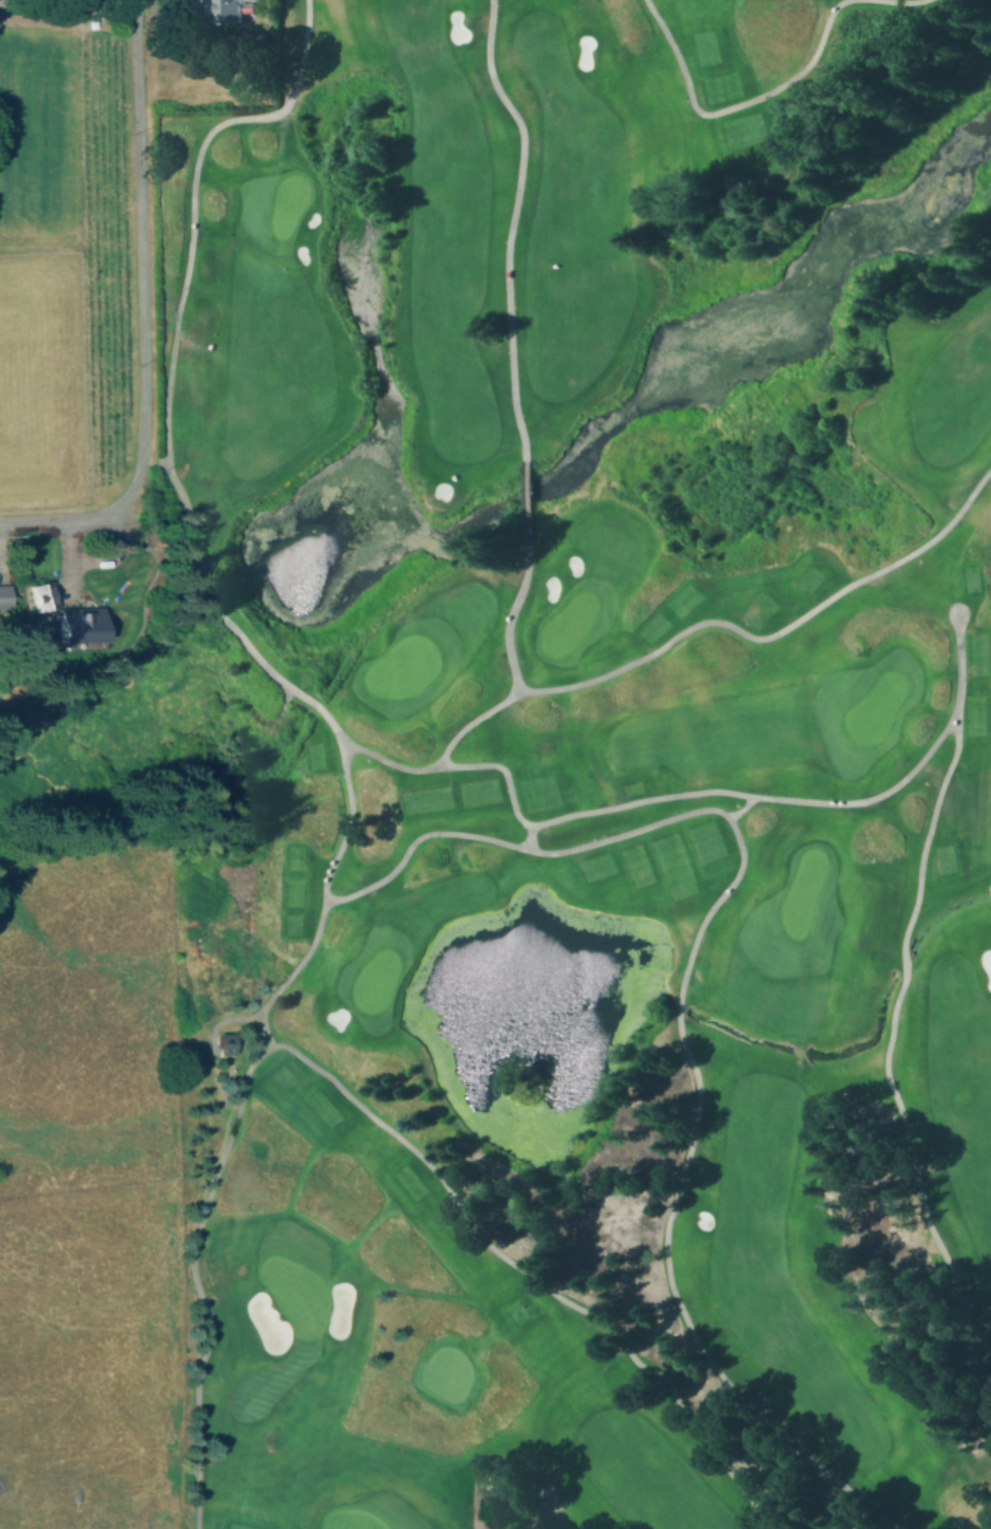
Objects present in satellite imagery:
road: (899, 4)
building: (231, 8)
road: (733, 107)
road: (512, 224)
road: (142, 240)
road: (526, 506)
road: (75, 515)
road: (115, 550)
road: (70, 558)
building: (44, 595)
building: (6, 596)
road: (712, 621)
building: (81, 625)
park: (402, 666)
road: (273, 718)
road: (472, 720)
park: (581, 765)
road: (691, 791)
road: (740, 808)
road: (427, 836)
road: (528, 837)
road: (225, 1017)
road: (254, 1017)
road: (890, 1033)
building: (223, 1040)
road: (468, 1222)
road: (195, 1281)

